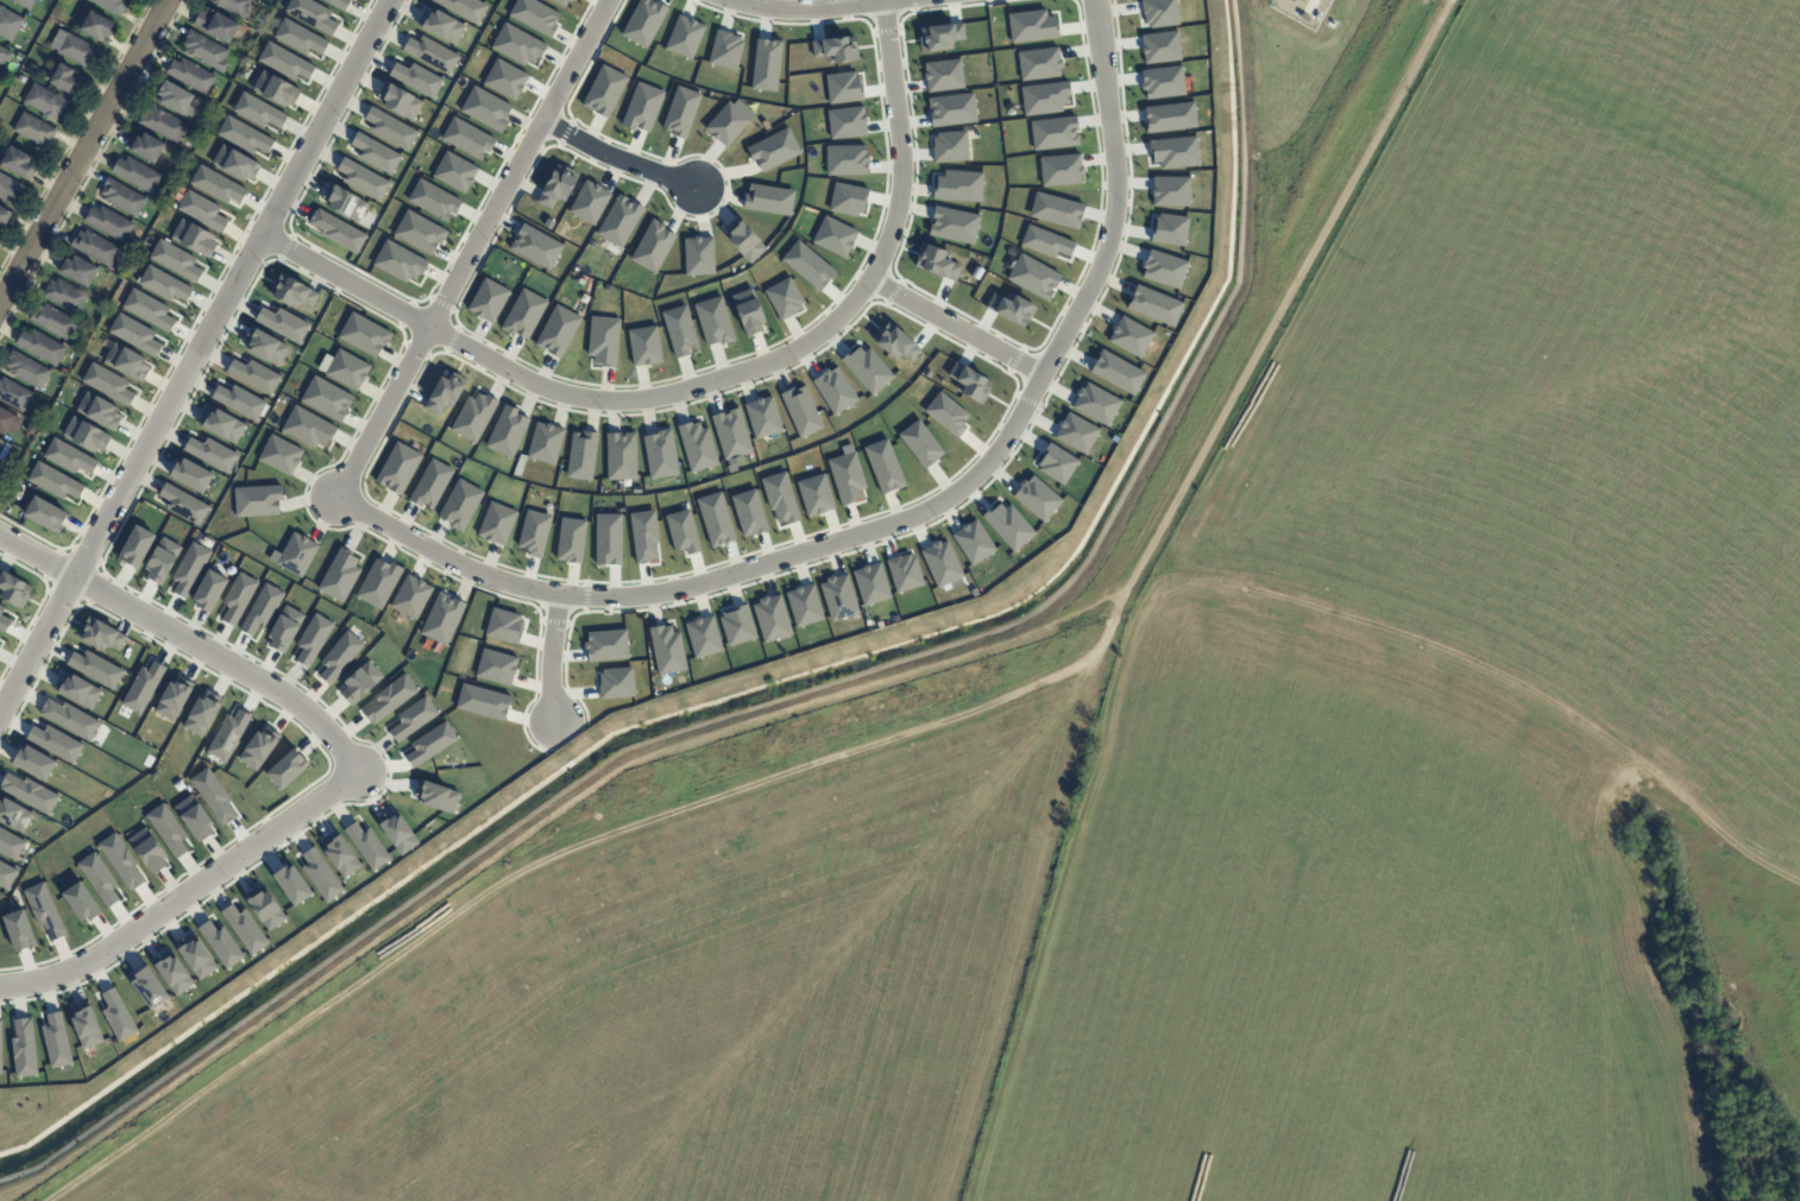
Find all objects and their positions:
building: (560, 2)
building: (25, 4)
building: (338, 4)
building: (112, 6)
building: (233, 6)
building: (464, 8)
road: (820, 8)
building: (1159, 13)
building: (311, 14)
building: (535, 15)
building: (643, 21)
building: (10, 24)
building: (95, 24)
building: (218, 24)
building: (440, 25)
building: (1031, 26)
building: (298, 37)
building: (684, 37)
building: (939, 37)
building: (517, 45)
building: (1160, 46)
building: (836, 49)
building: (725, 50)
building: (78, 51)
building: (206, 51)
building: (430, 53)
building: (5, 55)
building: (38, 57)
building: (284, 62)
building: (1039, 63)
building: (766, 64)
building: (32, 69)
building: (943, 75)
building: (191, 76)
building: (417, 78)
building: (505, 78)
building: (23, 80)
building: (65, 80)
building: (1162, 82)
building: (843, 88)
building: (276, 89)
building: (604, 90)
building: (175, 96)
building: (1044, 97)
building: (398, 101)
building: (46, 102)
building: (642, 107)
building: (486, 109)
building: (951, 109)
building: (257, 110)
building: (680, 112)
building: (1170, 116)
building: (728, 121)
building: (846, 122)
building: (163, 124)
building: (390, 128)
building: (34, 131)
building: (1053, 133)
building: (245, 134)
building: (467, 139)
building: (950, 146)
building: (146, 147)
road: (81, 150)
building: (774, 150)
building: (1173, 152)
building: (375, 153)
road: (617, 158)
building: (845, 159)
building: (18, 163)
building: (234, 163)
building: (1061, 170)
building: (454, 172)
building: (137, 175)
building: (363, 179)
building: (216, 184)
building: (556, 187)
building: (958, 187)
building: (11, 189)
building: (1170, 191)
building: (122, 197)
building: (433, 200)
building: (768, 200)
building: (848, 200)
building: (344, 202)
building: (589, 202)
building: (202, 209)
building: (1056, 210)
building: (4, 215)
building: (619, 221)
building: (109, 223)
building: (952, 225)
building: (336, 230)
building: (1169, 230)
building: (418, 232)
building: (835, 236)
building: (194, 238)
building: (743, 240)
building: (1045, 242)
building: (652, 246)
building: (536, 247)
building: (95, 248)
road: (473, 248)
building: (698, 257)
building: (175, 260)
building: (398, 261)
building: (936, 261)
building: (807, 265)
building: (1163, 268)
building: (78, 271)
building: (1033, 277)
building: (164, 285)
building: (291, 292)
building: (65, 296)
building: (783, 298)
building: (487, 299)
building: (1154, 305)
building: (1011, 309)
building: (147, 310)
building: (748, 311)
building: (523, 314)
building: (713, 321)
building: (55, 322)
building: (282, 323)
road: (958, 327)
building: (556, 331)
building: (679, 331)
building: (134, 334)
building: (364, 335)
building: (1129, 336)
building: (603, 340)
building: (894, 342)
building: (644, 346)
building: (42, 347)
building: (265, 347)
road: (197, 358)
building: (126, 362)
building: (867, 368)
building: (347, 369)
building: (26, 371)
building: (63, 372)
building: (1116, 372)
building: (253, 375)
road: (707, 383)
building: (969, 383)
building: (108, 384)
building: (835, 390)
crop: (1559, 391)
building: (443, 393)
building: (14, 396)
building: (327, 399)
building: (239, 402)
building: (1095, 404)
building: (99, 411)
building: (801, 411)
building: (946, 413)
building: (473, 417)
building: (763, 417)
building: (7, 422)
building: (220, 425)
building: (307, 428)
building: (31, 429)
building: (506, 431)
building: (1076, 432)
building: (86, 435)
building: (731, 437)
building: (545, 443)
building: (920, 443)
building: (697, 447)
building: (4, 450)
building: (212, 454)
building: (660, 454)
building: (279, 455)
building: (581, 455)
building: (621, 456)
building: (68, 457)
building: (1056, 463)
building: (883, 466)
building: (397, 467)
building: (190, 475)
building: (846, 475)
building: (6, 481)
building: (54, 481)
building: (430, 483)
building: (814, 494)
building: (780, 498)
building: (1037, 498)
building: (257, 500)
building: (183, 504)
building: (460, 505)
building: (749, 512)
building: (44, 514)
building: (716, 519)
road: (904, 519)
building: (496, 523)
building: (1008, 526)
building: (682, 531)
building: (534, 532)
building: (643, 536)
building: (569, 539)
building: (608, 539)
building: (973, 542)
building: (136, 546)
building: (295, 555)
building: (162, 561)
building: (940, 563)
building: (189, 569)
building: (904, 573)
building: (339, 575)
building: (378, 582)
building: (870, 583)
building: (13, 590)
building: (209, 590)
building: (410, 596)
building: (238, 598)
building: (838, 598)
building: (804, 606)
building: (262, 609)
building: (770, 618)
building: (441, 619)
building: (2, 620)
building: (737, 625)
building: (503, 626)
building: (284, 628)
building: (100, 634)
building: (703, 637)
building: (311, 639)
road: (189, 641)
building: (606, 645)
building: (667, 650)
building: (339, 657)
road: (550, 658)
building: (496, 668)
building: (95, 669)
building: (359, 683)
building: (616, 683)
building: (143, 687)
building: (77, 691)
building: (174, 697)
building: (389, 699)
building: (482, 701)
building: (202, 714)
building: (69, 719)
building: (413, 719)
building: (228, 735)
road: (889, 737)
building: (56, 742)
building: (430, 745)
building: (258, 747)
building: (33, 763)
building: (287, 770)
building: (30, 794)
building: (212, 795)
building: (436, 796)
building: (14, 816)
building: (194, 818)
building: (168, 829)
building: (396, 833)
building: (10, 845)
building: (366, 846)
building: (147, 851)
building: (340, 855)
building: (120, 860)
building: (6, 876)
building: (320, 876)
building: (99, 879)
building: (291, 885)
road: (185, 893)
building: (80, 903)
building: (264, 908)
building: (44, 910)
building: (245, 929)
building: (18, 930)
building: (220, 944)
building: (195, 957)
building: (172, 973)
building: (147, 987)
building: (117, 1014)
building: (86, 1025)
building: (56, 1041)
building: (0, 1045)
building: (23, 1048)

